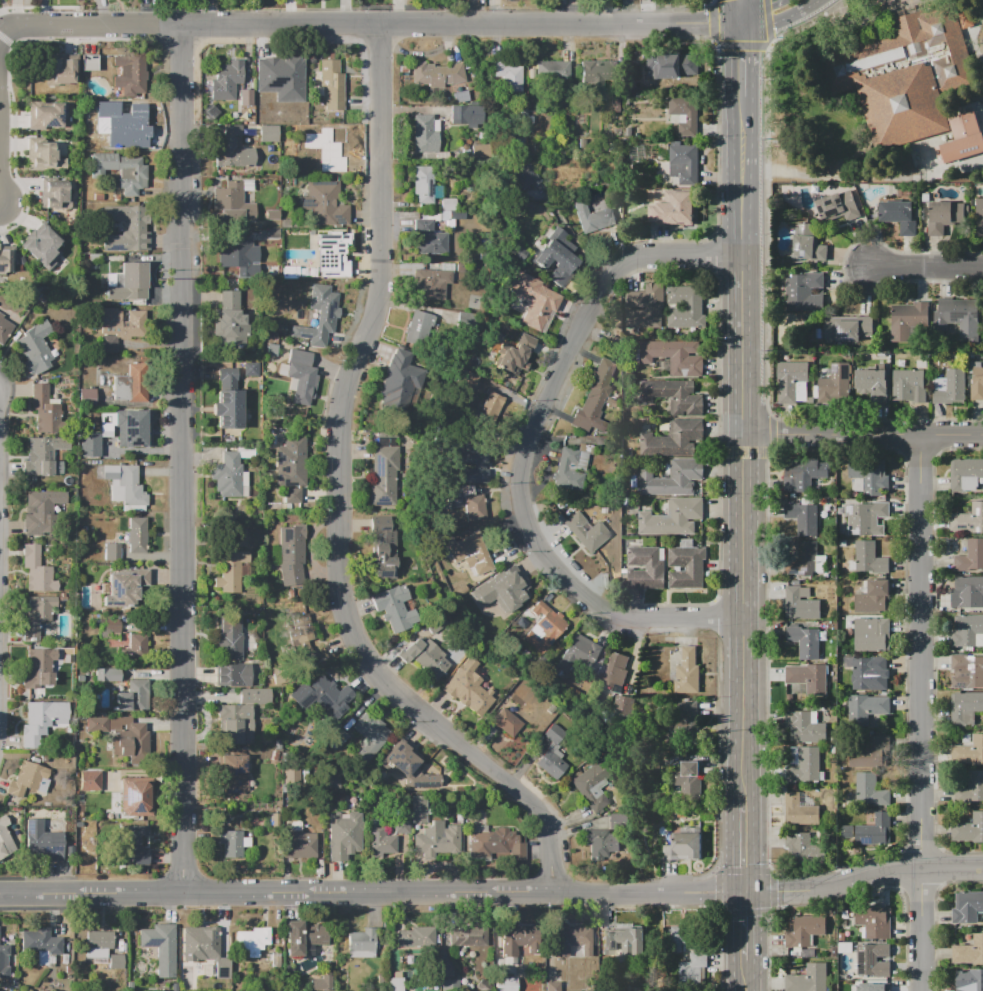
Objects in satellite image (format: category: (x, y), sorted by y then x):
traffic signals: (767, 1)
road: (753, 8)
road: (734, 9)
road: (742, 9)
road: (778, 16)
road: (7, 19)
traffic signals: (711, 19)
road: (367, 24)
road: (0, 34)
road: (0, 36)
building: (898, 44)
traffic signals: (740, 51)
building: (88, 62)
building: (670, 65)
building: (280, 71)
building: (553, 71)
building: (60, 72)
building: (129, 74)
building: (594, 74)
building: (438, 75)
building: (508, 75)
building: (226, 80)
building: (331, 85)
park: (872, 94)
road: (740, 97)
building: (245, 99)
building: (903, 105)
building: (685, 113)
building: (52, 117)
building: (466, 117)
building: (964, 124)
building: (125, 128)
building: (268, 132)
building: (423, 133)
building: (479, 150)
building: (233, 153)
building: (43, 156)
building: (331, 156)
building: (682, 163)
building: (120, 170)
building: (523, 178)
building: (422, 185)
building: (54, 193)
building: (233, 202)
building: (447, 203)
building: (323, 204)
building: (838, 205)
building: (899, 215)
road: (741, 216)
building: (979, 216)
building: (942, 217)
building: (593, 218)
building: (680, 218)
building: (127, 229)
building: (428, 238)
building: (808, 244)
building: (42, 248)
building: (231, 253)
building: (329, 254)
building: (557, 256)
building: (5, 261)
road: (843, 267)
road: (927, 267)
building: (127, 283)
building: (430, 284)
road: (766, 291)
building: (804, 292)
building: (534, 300)
building: (644, 306)
building: (686, 307)
building: (960, 316)
building: (320, 317)
building: (229, 322)
building: (901, 323)
building: (117, 327)
building: (848, 327)
building: (4, 329)
building: (421, 329)
building: (34, 346)
building: (515, 354)
building: (673, 356)
building: (226, 374)
building: (976, 375)
building: (301, 376)
building: (132, 377)
building: (790, 379)
building: (397, 380)
building: (90, 381)
building: (872, 383)
building: (836, 384)
building: (907, 386)
building: (950, 386)
building: (674, 396)
building: (594, 397)
building: (43, 409)
building: (227, 409)
building: (485, 410)
building: (132, 429)
building: (105, 430)
road: (862, 435)
road: (742, 436)
building: (672, 438)
building: (88, 445)
road: (528, 450)
building: (43, 455)
road: (185, 460)
building: (291, 461)
building: (475, 463)
building: (572, 466)
building: (798, 471)
building: (869, 474)
building: (227, 475)
building: (383, 475)
building: (966, 476)
building: (672, 477)
building: (122, 484)
building: (454, 492)
building: (291, 495)
road: (339, 498)
building: (40, 511)
building: (468, 512)
building: (802, 517)
building: (671, 518)
building: (866, 518)
building: (968, 519)
building: (586, 532)
building: (137, 535)
building: (238, 538)
building: (851, 542)
building: (842, 543)
building: (382, 548)
building: (112, 553)
building: (292, 554)
building: (469, 555)
building: (970, 557)
building: (868, 558)
building: (807, 561)
building: (687, 567)
building: (645, 568)
building: (230, 569)
building: (36, 571)
building: (503, 589)
building: (120, 591)
building: (968, 592)
building: (872, 598)
building: (800, 606)
building: (395, 608)
building: (37, 617)
building: (111, 624)
building: (545, 627)
building: (295, 628)
building: (966, 630)
building: (871, 636)
building: (804, 641)
building: (137, 646)
building: (578, 654)
building: (231, 655)
building: (425, 656)
building: (39, 668)
building: (864, 670)
building: (967, 670)
building: (614, 671)
building: (686, 673)
building: (107, 675)
building: (808, 678)
building: (469, 688)
building: (327, 697)
building: (132, 698)
building: (623, 704)
building: (965, 706)
building: (865, 708)
road: (744, 709)
road: (920, 713)
building: (241, 717)
building: (41, 721)
building: (506, 724)
building: (805, 727)
building: (685, 729)
building: (116, 733)
building: (371, 735)
building: (337, 736)
building: (833, 740)
building: (970, 751)
building: (552, 754)
building: (866, 754)
building: (806, 765)
building: (408, 769)
building: (292, 772)
building: (234, 774)
building: (333, 778)
building: (25, 779)
building: (100, 780)
building: (689, 780)
building: (592, 786)
building: (973, 786)
building: (870, 791)
building: (136, 793)
building: (419, 809)
building: (800, 811)
building: (458, 818)
building: (617, 821)
building: (402, 825)
building: (663, 830)
building: (968, 830)
building: (873, 831)
building: (344, 835)
building: (5, 837)
building: (439, 839)
building: (42, 841)
building: (298, 843)
building: (379, 843)
building: (496, 843)
building: (231, 844)
building: (601, 844)
building: (683, 844)
building: (135, 845)
road: (745, 846)
building: (804, 848)
road: (864, 877)
traffic signals: (746, 892)
road: (373, 894)
building: (966, 907)
building: (844, 916)
building: (873, 922)
road: (745, 926)
building: (804, 929)
building: (302, 936)
building: (417, 936)
building: (841, 936)
building: (467, 937)
building: (679, 938)
building: (620, 939)
building: (520, 940)
building: (40, 941)
building: (255, 941)
building: (572, 942)
building: (97, 944)
building: (361, 944)
building: (843, 945)
building: (161, 946)
building: (204, 948)
building: (969, 951)
building: (872, 959)
building: (7, 960)
building: (117, 961)
building: (693, 967)
building: (449, 972)
road: (745, 975)
building: (844, 977)
building: (808, 978)
building: (968, 980)
building: (397, 982)
building: (322, 983)
building: (202, 984)
building: (505, 984)
building: (451, 985)
building: (553, 986)
building: (175, 987)
building: (882, 987)

